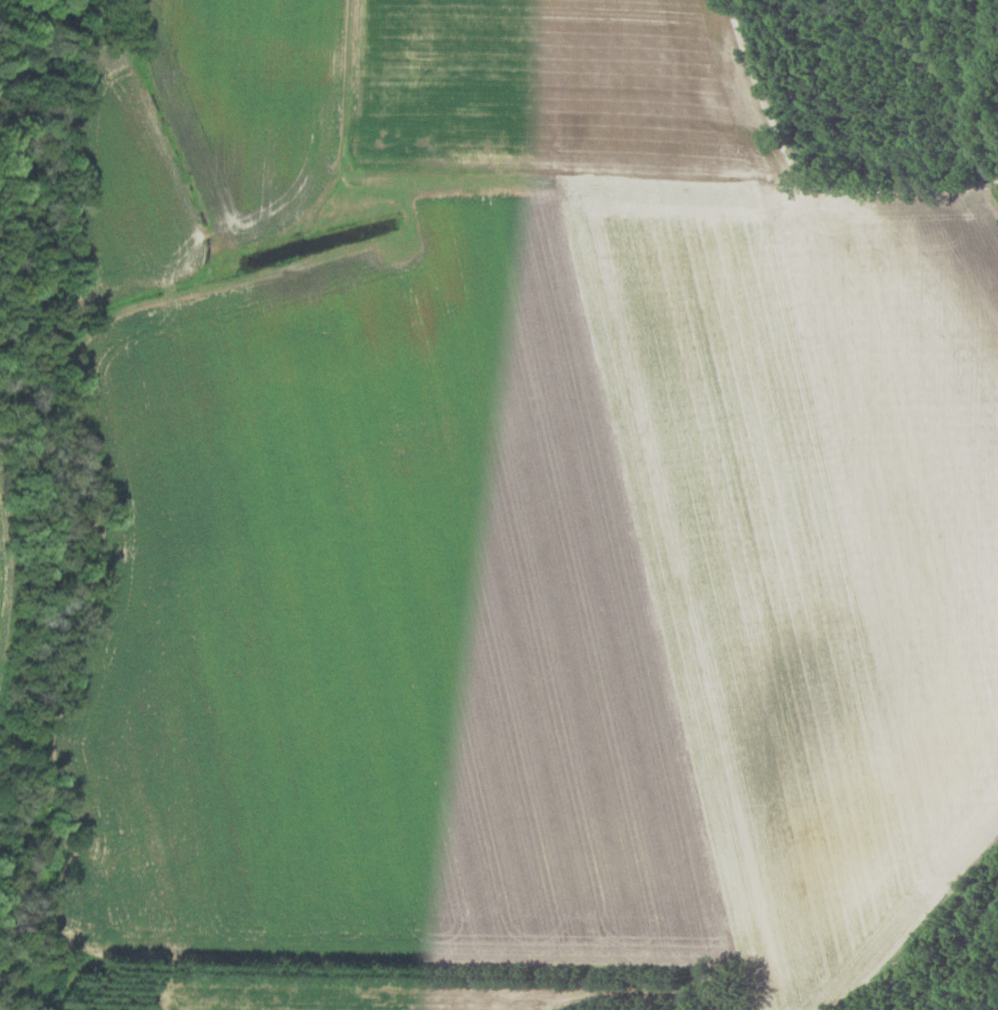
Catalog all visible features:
road: (761, 96)
road: (578, 185)

